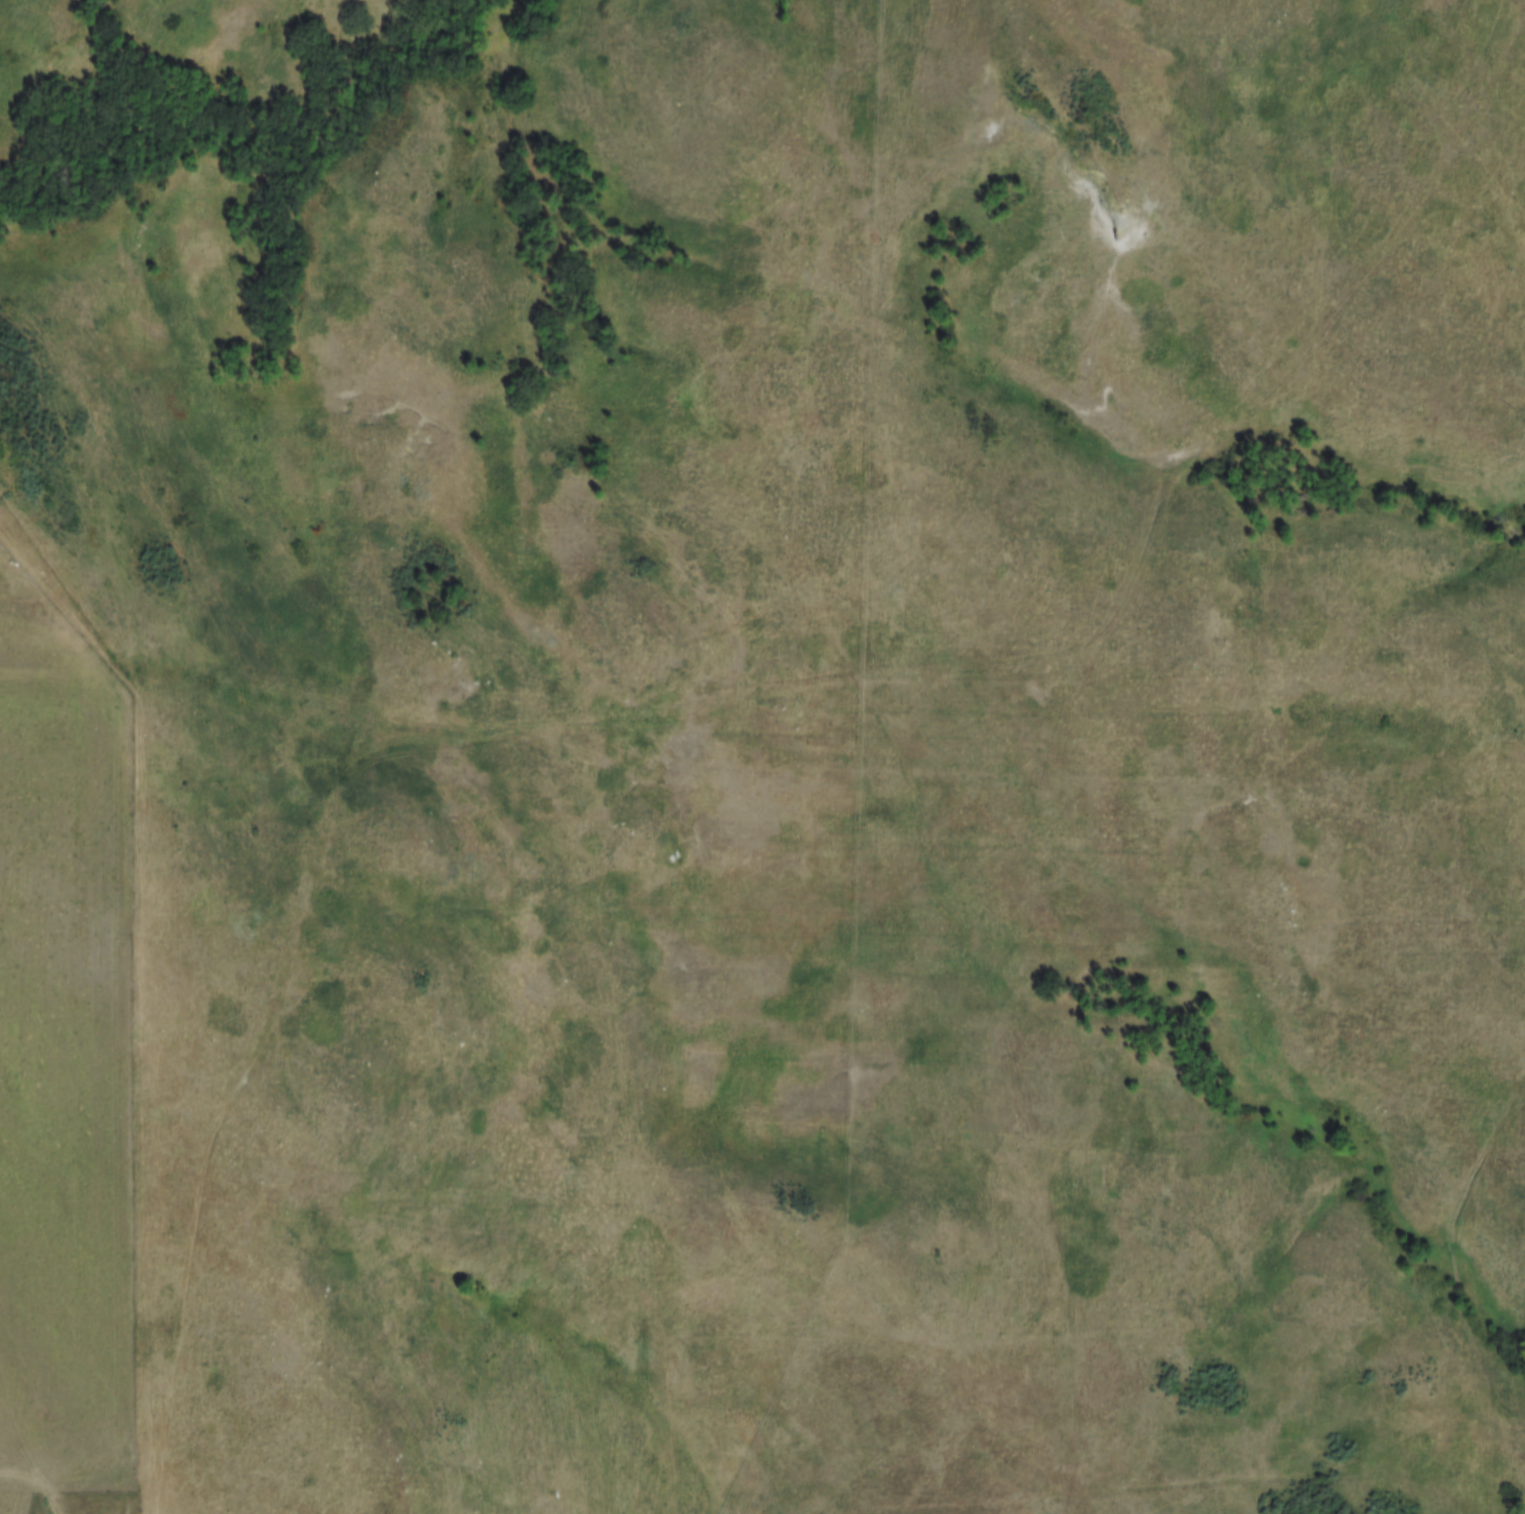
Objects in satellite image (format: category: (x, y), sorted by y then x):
road: (130, 1508)

